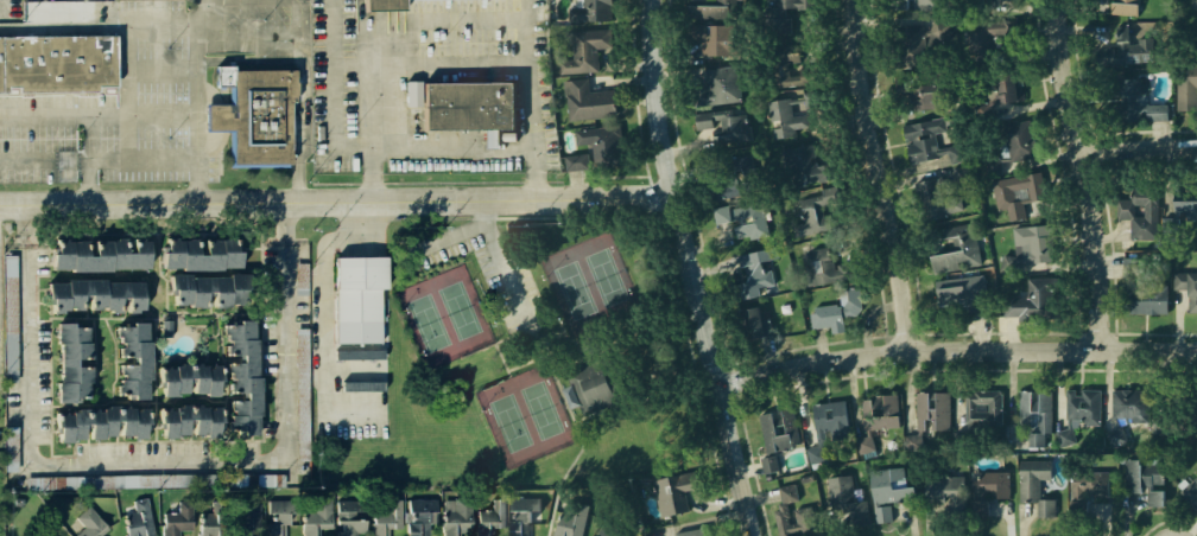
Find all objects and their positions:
building: (1001, 1)
building: (976, 2)
building: (1115, 2)
building: (591, 5)
building: (901, 5)
building: (382, 6)
building: (921, 7)
building: (1126, 7)
building: (50, 11)
road: (205, 12)
building: (709, 12)
building: (778, 18)
road: (431, 21)
road: (161, 24)
road: (63, 26)
building: (1111, 31)
road: (249, 38)
building: (1003, 39)
building: (708, 42)
building: (920, 45)
building: (581, 51)
building: (1126, 51)
road: (243, 60)
building: (56, 62)
road: (471, 63)
building: (783, 68)
road: (161, 69)
road: (338, 76)
building: (717, 76)
building: (1187, 83)
building: (1007, 85)
road: (209, 90)
road: (85, 92)
road: (127, 92)
building: (919, 92)
building: (1132, 92)
building: (413, 94)
road: (532, 97)
road: (69, 100)
building: (583, 102)
building: (464, 104)
road: (69, 109)
road: (197, 109)
road: (372, 109)
road: (63, 113)
road: (163, 113)
building: (256, 115)
building: (786, 117)
building: (720, 126)
road: (209, 142)
building: (930, 145)
building: (1006, 147)
road: (1140, 148)
road: (437, 151)
building: (588, 152)
road: (89, 155)
road: (25, 159)
road: (142, 160)
building: (799, 167)
building: (961, 174)
road: (1089, 174)
road: (882, 177)
building: (723, 180)
road: (454, 181)
road: (534, 181)
road: (553, 181)
road: (337, 184)
road: (372, 184)
road: (338, 196)
road: (652, 199)
building: (937, 199)
building: (1025, 199)
road: (481, 209)
road: (574, 217)
road: (655, 217)
road: (433, 218)
road: (480, 218)
building: (1141, 218)
building: (805, 219)
building: (1185, 223)
building: (736, 226)
building: (1171, 229)
road: (445, 237)
road: (324, 244)
building: (1028, 249)
building: (950, 251)
building: (195, 254)
building: (97, 255)
road: (310, 264)
road: (696, 269)
building: (816, 269)
road: (501, 270)
building: (747, 275)
parking lot: (495, 280)
park: (588, 280)
building: (1187, 289)
building: (199, 291)
building: (93, 294)
road: (674, 296)
building: (353, 298)
building: (1145, 298)
building: (1039, 304)
building: (964, 305)
building: (830, 313)
park: (442, 315)
building: (167, 321)
building: (743, 325)
road: (530, 334)
road: (507, 336)
road: (474, 350)
road: (600, 350)
road: (957, 351)
building: (359, 355)
road: (498, 356)
building: (129, 359)
building: (71, 360)
road: (524, 362)
road: (546, 362)
road: (569, 362)
park: (530, 365)
road: (714, 369)
road: (506, 372)
road: (696, 374)
building: (237, 377)
building: (302, 377)
building: (186, 378)
building: (594, 385)
building: (363, 387)
road: (560, 396)
building: (571, 396)
building: (1083, 403)
building: (982, 407)
building: (882, 413)
building: (1034, 413)
building: (933, 414)
park: (524, 415)
road: (587, 415)
building: (829, 417)
building: (1133, 419)
building: (188, 421)
building: (99, 422)
building: (773, 435)
building: (303, 438)
road: (709, 438)
building: (914, 441)
building: (866, 445)
road: (578, 449)
road: (259, 452)
building: (1033, 477)
building: (121, 481)
building: (642, 481)
building: (988, 483)
building: (1090, 487)
building: (1149, 487)
building: (674, 489)
building: (891, 491)
building: (939, 491)
building: (1190, 492)
building: (850, 504)
building: (1044, 506)
building: (981, 508)
building: (790, 510)
building: (419, 513)
building: (279, 515)
building: (316, 515)
building: (350, 516)
building: (493, 516)
building: (135, 517)
building: (179, 517)
building: (456, 517)
building: (530, 517)
building: (214, 518)
building: (246, 518)
building: (572, 518)
building: (388, 519)
building: (90, 523)
building: (608, 530)
building: (690, 531)
building: (47, 534)

